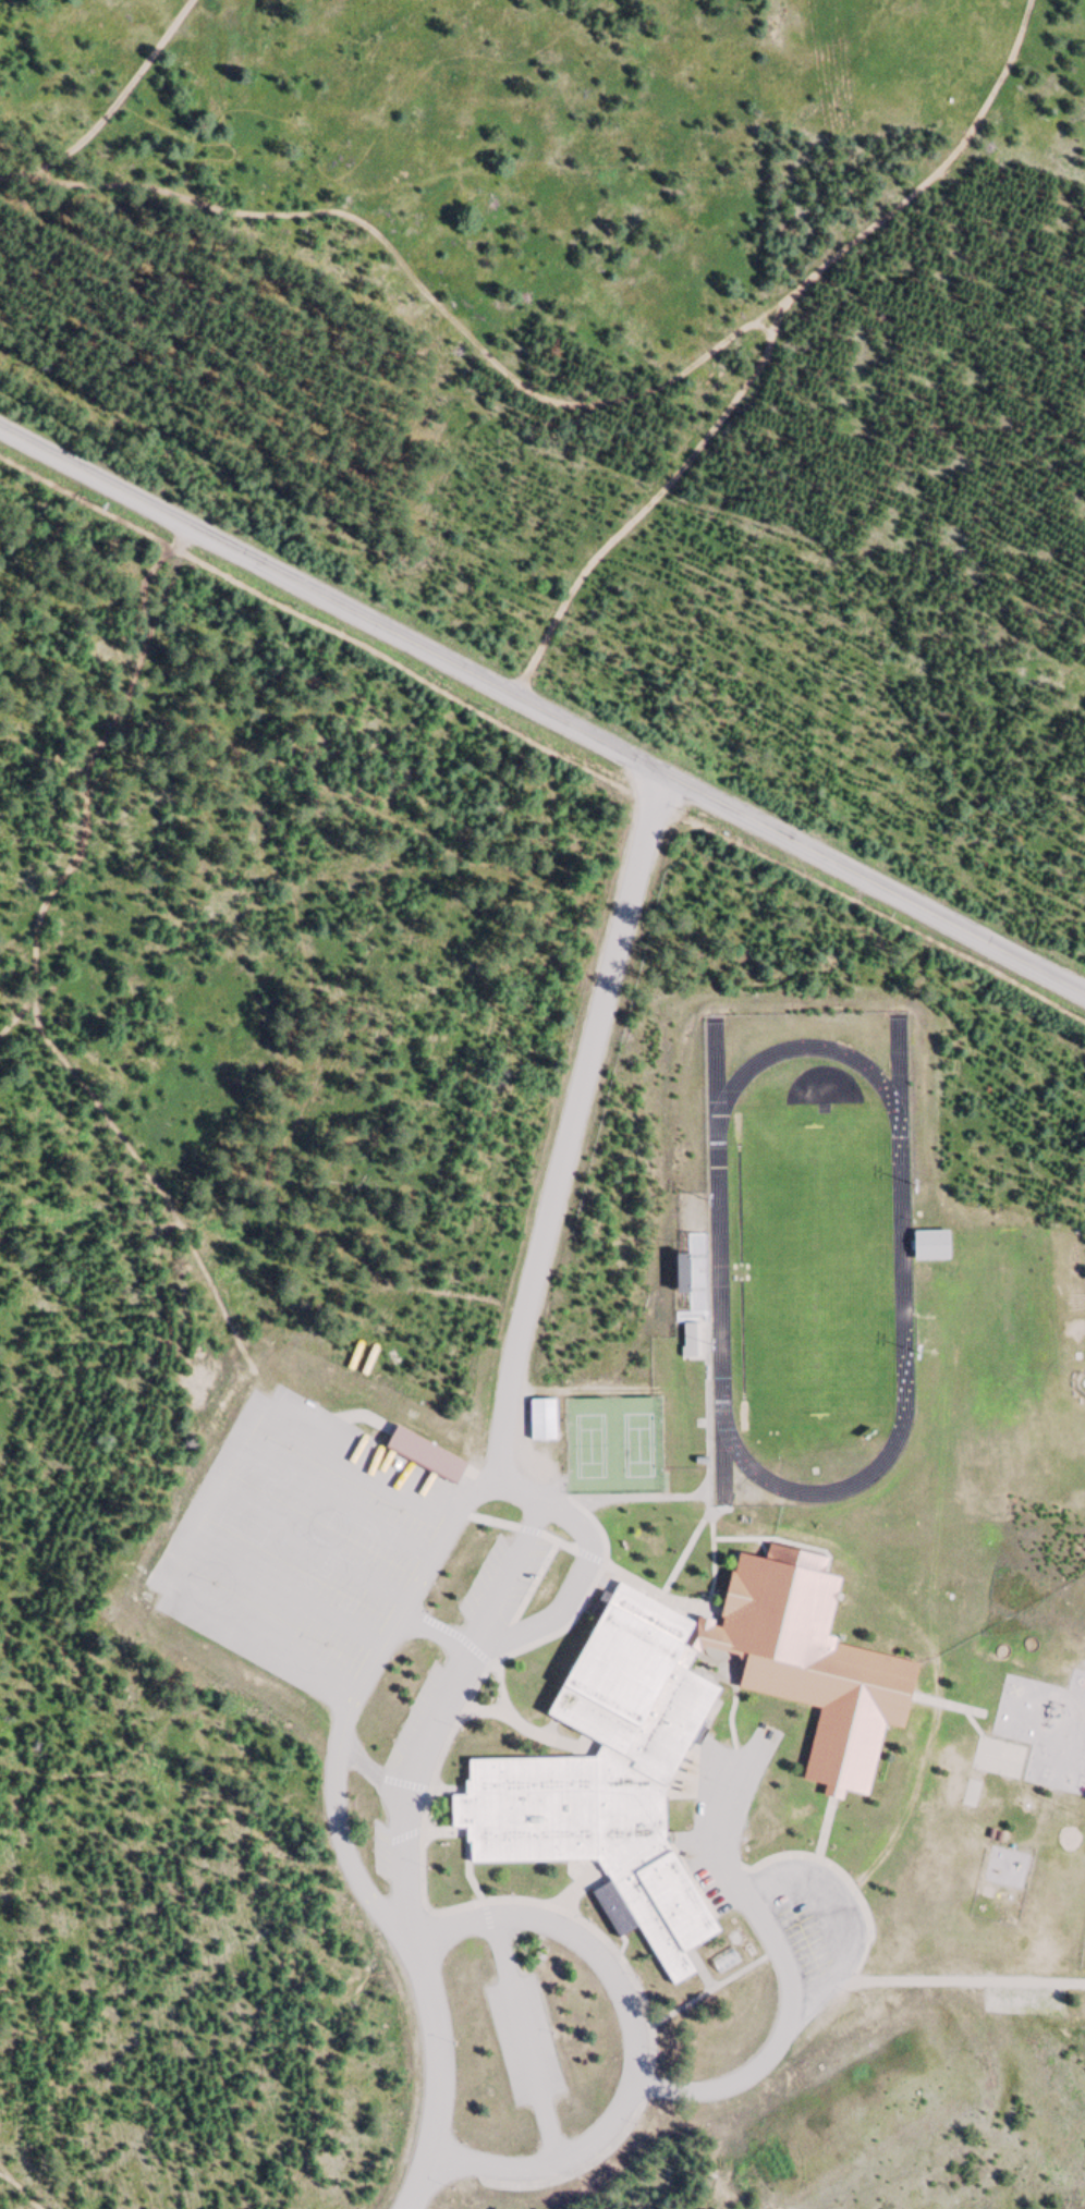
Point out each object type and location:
road: (112, 109)
road: (542, 710)
road: (157, 1187)
track: (720, 1267)
building: (692, 1268)
building: (692, 1342)
building: (542, 1421)
park: (614, 1443)
building: (425, 1457)
road: (209, 1491)
road: (333, 1499)
road: (463, 1503)
road: (309, 1545)
parking lot: (307, 1546)
road: (284, 1589)
road: (565, 1607)
building: (681, 1735)
road: (464, 1920)
park: (1084, 1949)
road: (788, 1974)

